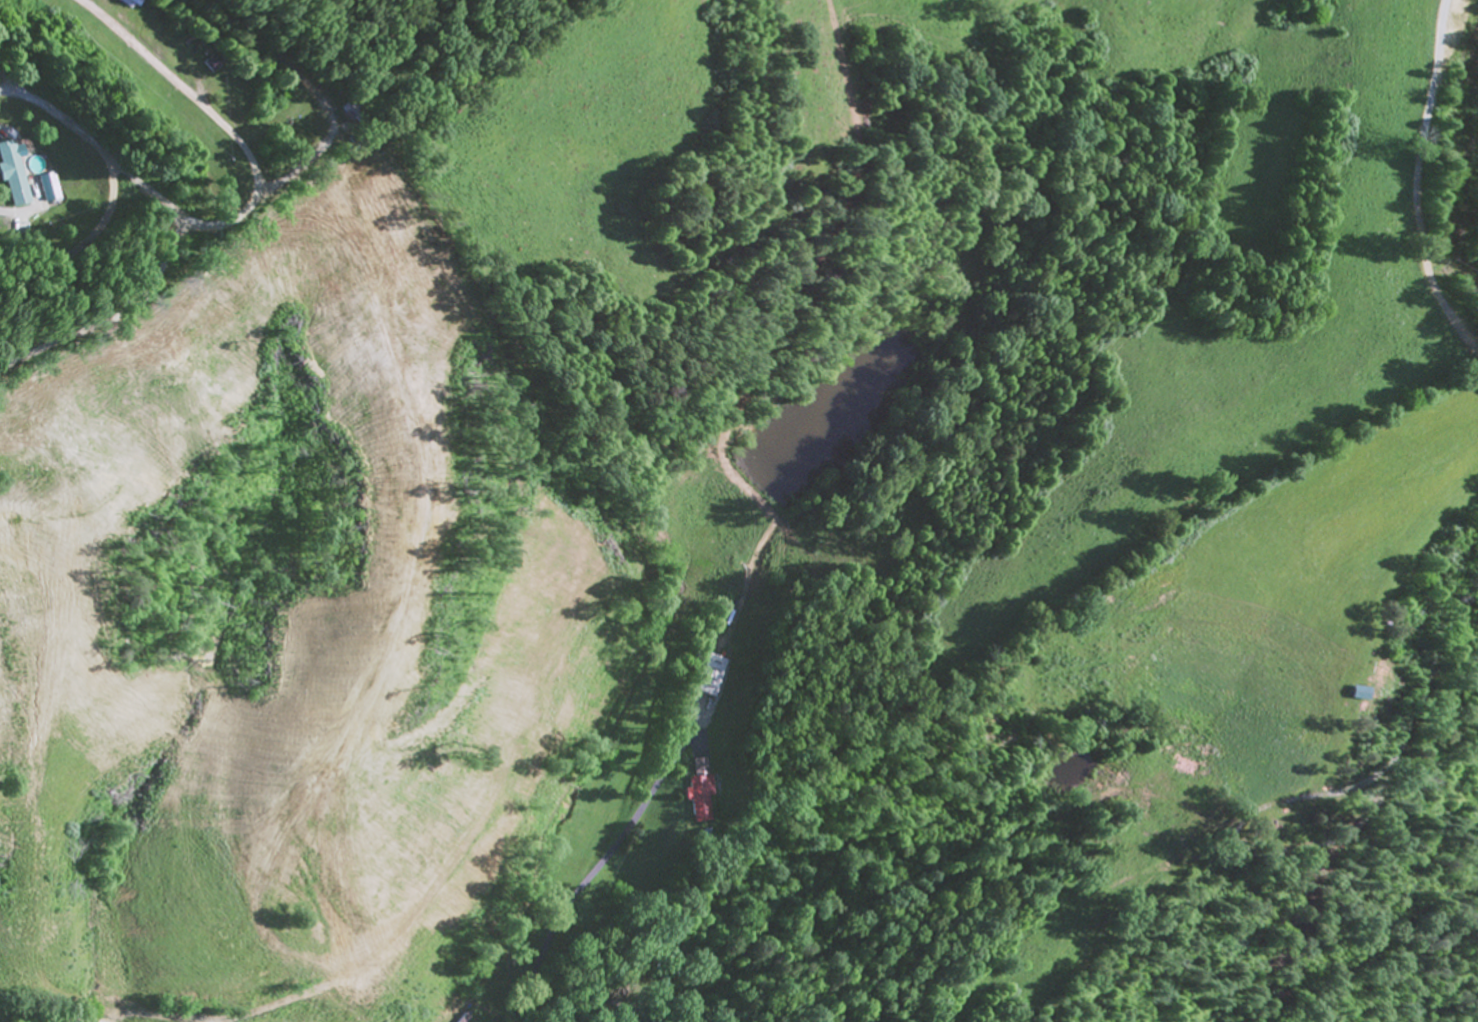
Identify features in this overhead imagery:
road: (488, 74)
building: (10, 178)
road: (1408, 191)
road: (393, 316)
building: (706, 676)
building: (698, 799)
road: (1076, 970)
building: (117, 985)

